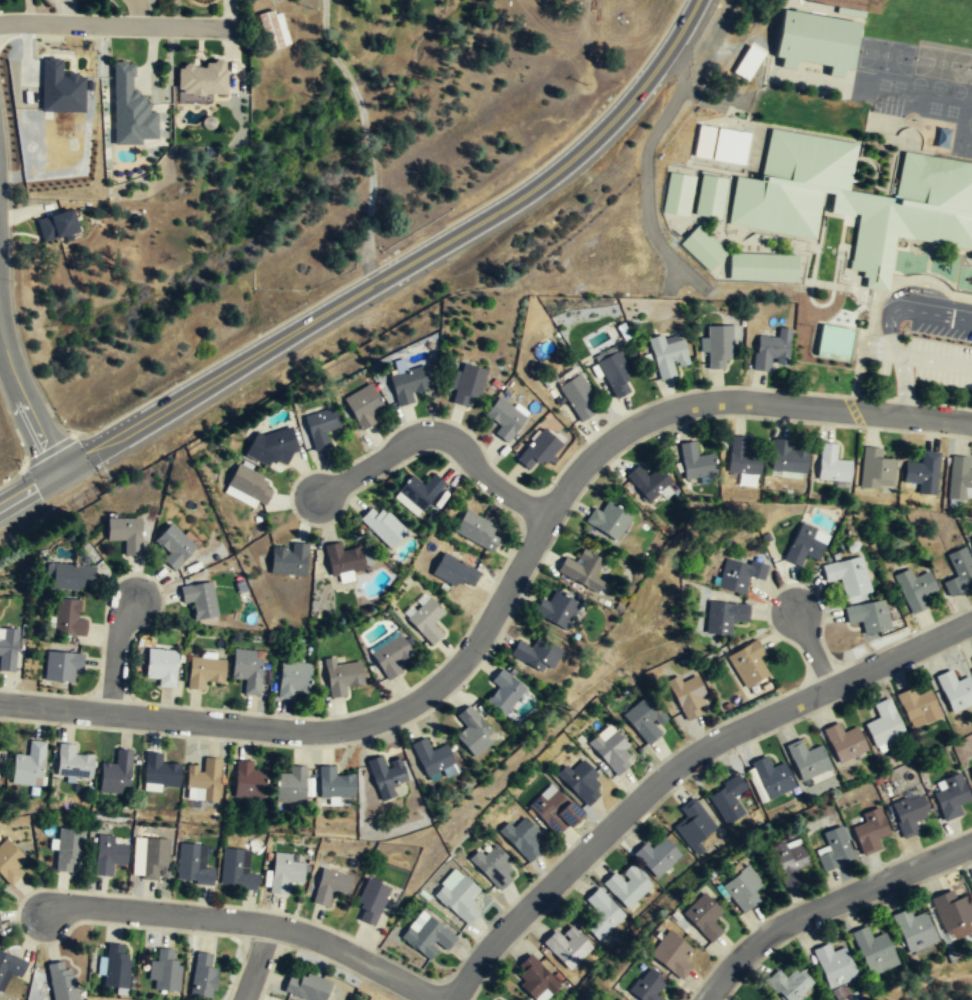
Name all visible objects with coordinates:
road: (117, 25)
building: (271, 30)
building: (813, 39)
park: (885, 57)
building: (749, 62)
park: (940, 65)
park: (970, 75)
building: (202, 80)
building: (61, 88)
building: (130, 109)
building: (704, 142)
building: (728, 150)
building: (678, 193)
building: (710, 196)
building: (854, 199)
building: (57, 225)
building: (703, 248)
road: (417, 257)
building: (763, 269)
road: (882, 319)
road: (939, 320)
building: (832, 342)
building: (719, 348)
building: (770, 350)
building: (667, 355)
road: (902, 359)
road: (937, 363)
building: (615, 374)
building: (407, 385)
building: (468, 387)
street lamp: (881, 395)
building: (578, 397)
road: (737, 399)
road: (26, 402)
building: (364, 408)
building: (504, 420)
street lamp: (711, 420)
building: (320, 429)
wastewater plant: (0, 433)
road: (437, 434)
building: (271, 447)
building: (537, 451)
building: (742, 459)
building: (789, 460)
building: (696, 462)
building: (831, 465)
building: (876, 470)
road: (59, 473)
building: (923, 473)
building: (959, 478)
street lamp: (549, 482)
building: (650, 483)
building: (249, 485)
building: (420, 492)
road: (16, 498)
building: (608, 521)
building: (382, 527)
street lamp: (320, 529)
building: (476, 531)
building: (124, 534)
building: (174, 546)
building: (805, 546)
building: (290, 559)
building: (343, 560)
building: (582, 571)
building: (959, 571)
building: (456, 573)
building: (738, 575)
building: (72, 577)
building: (848, 577)
building: (915, 590)
building: (199, 600)
building: (557, 610)
street lamp: (953, 610)
building: (868, 617)
building: (725, 618)
building: (68, 619)
building: (425, 622)
road: (812, 649)
building: (8, 650)
road: (115, 652)
road: (901, 653)
building: (536, 655)
building: (390, 656)
street lamp: (489, 657)
building: (747, 665)
building: (61, 667)
building: (161, 667)
building: (247, 671)
building: (205, 673)
building: (340, 677)
building: (293, 680)
building: (955, 690)
building: (504, 693)
street lamp: (143, 699)
building: (690, 699)
building: (917, 707)
road: (54, 708)
building: (645, 718)
street lamp: (807, 718)
road: (377, 719)
building: (884, 725)
building: (473, 733)
building: (844, 743)
street lamp: (352, 746)
building: (611, 752)
building: (431, 759)
building: (807, 761)
building: (70, 762)
building: (29, 765)
street lamp: (649, 767)
building: (158, 772)
building: (971, 773)
building: (116, 774)
building: (387, 777)
building: (772, 779)
building: (203, 781)
building: (247, 781)
building: (583, 784)
building: (334, 785)
building: (289, 786)
building: (951, 797)
building: (728, 802)
building: (554, 811)
building: (909, 815)
road: (619, 816)
building: (694, 826)
building: (870, 832)
street lamp: (944, 837)
building: (524, 841)
building: (68, 851)
building: (834, 851)
building: (107, 856)
building: (656, 858)
building: (153, 860)
building: (9, 863)
building: (193, 865)
building: (494, 866)
building: (790, 866)
building: (236, 870)
building: (285, 872)
building: (331, 887)
building: (627, 888)
building: (743, 891)
building: (457, 896)
building: (370, 903)
street lamp: (15, 904)
road: (827, 906)
street lamp: (553, 907)
road: (155, 911)
building: (954, 914)
street lamp: (301, 915)
building: (601, 916)
building: (703, 919)
street lamp: (141, 930)
building: (913, 931)
building: (427, 935)
building: (567, 947)
building: (874, 952)
road: (354, 955)
building: (671, 956)
road: (255, 961)
building: (835, 967)
building: (116, 968)
building: (9, 969)
building: (165, 976)
street lamp: (742, 977)
building: (203, 978)
building: (61, 981)
building: (535, 981)
building: (790, 986)
building: (307, 987)
building: (645, 987)
building: (618, 999)

